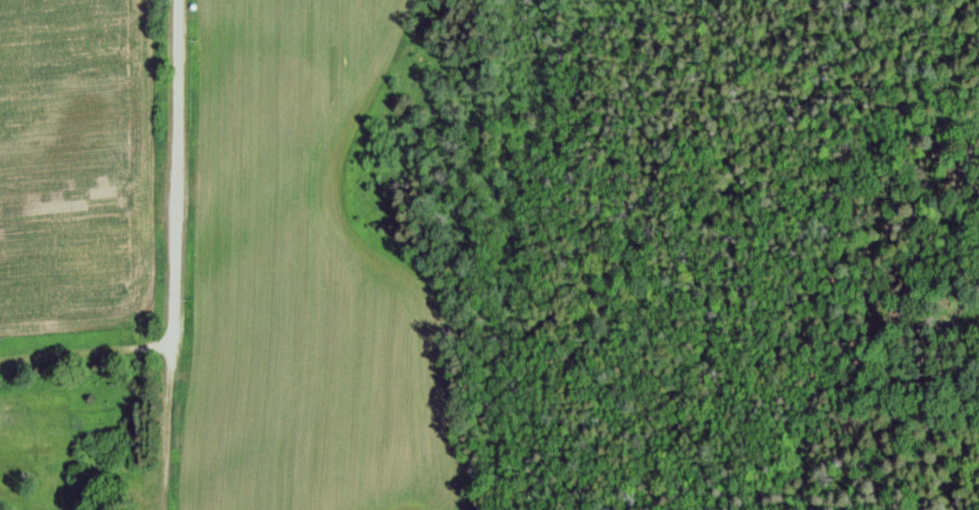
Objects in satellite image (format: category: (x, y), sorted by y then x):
road: (179, 174)
road: (169, 429)

